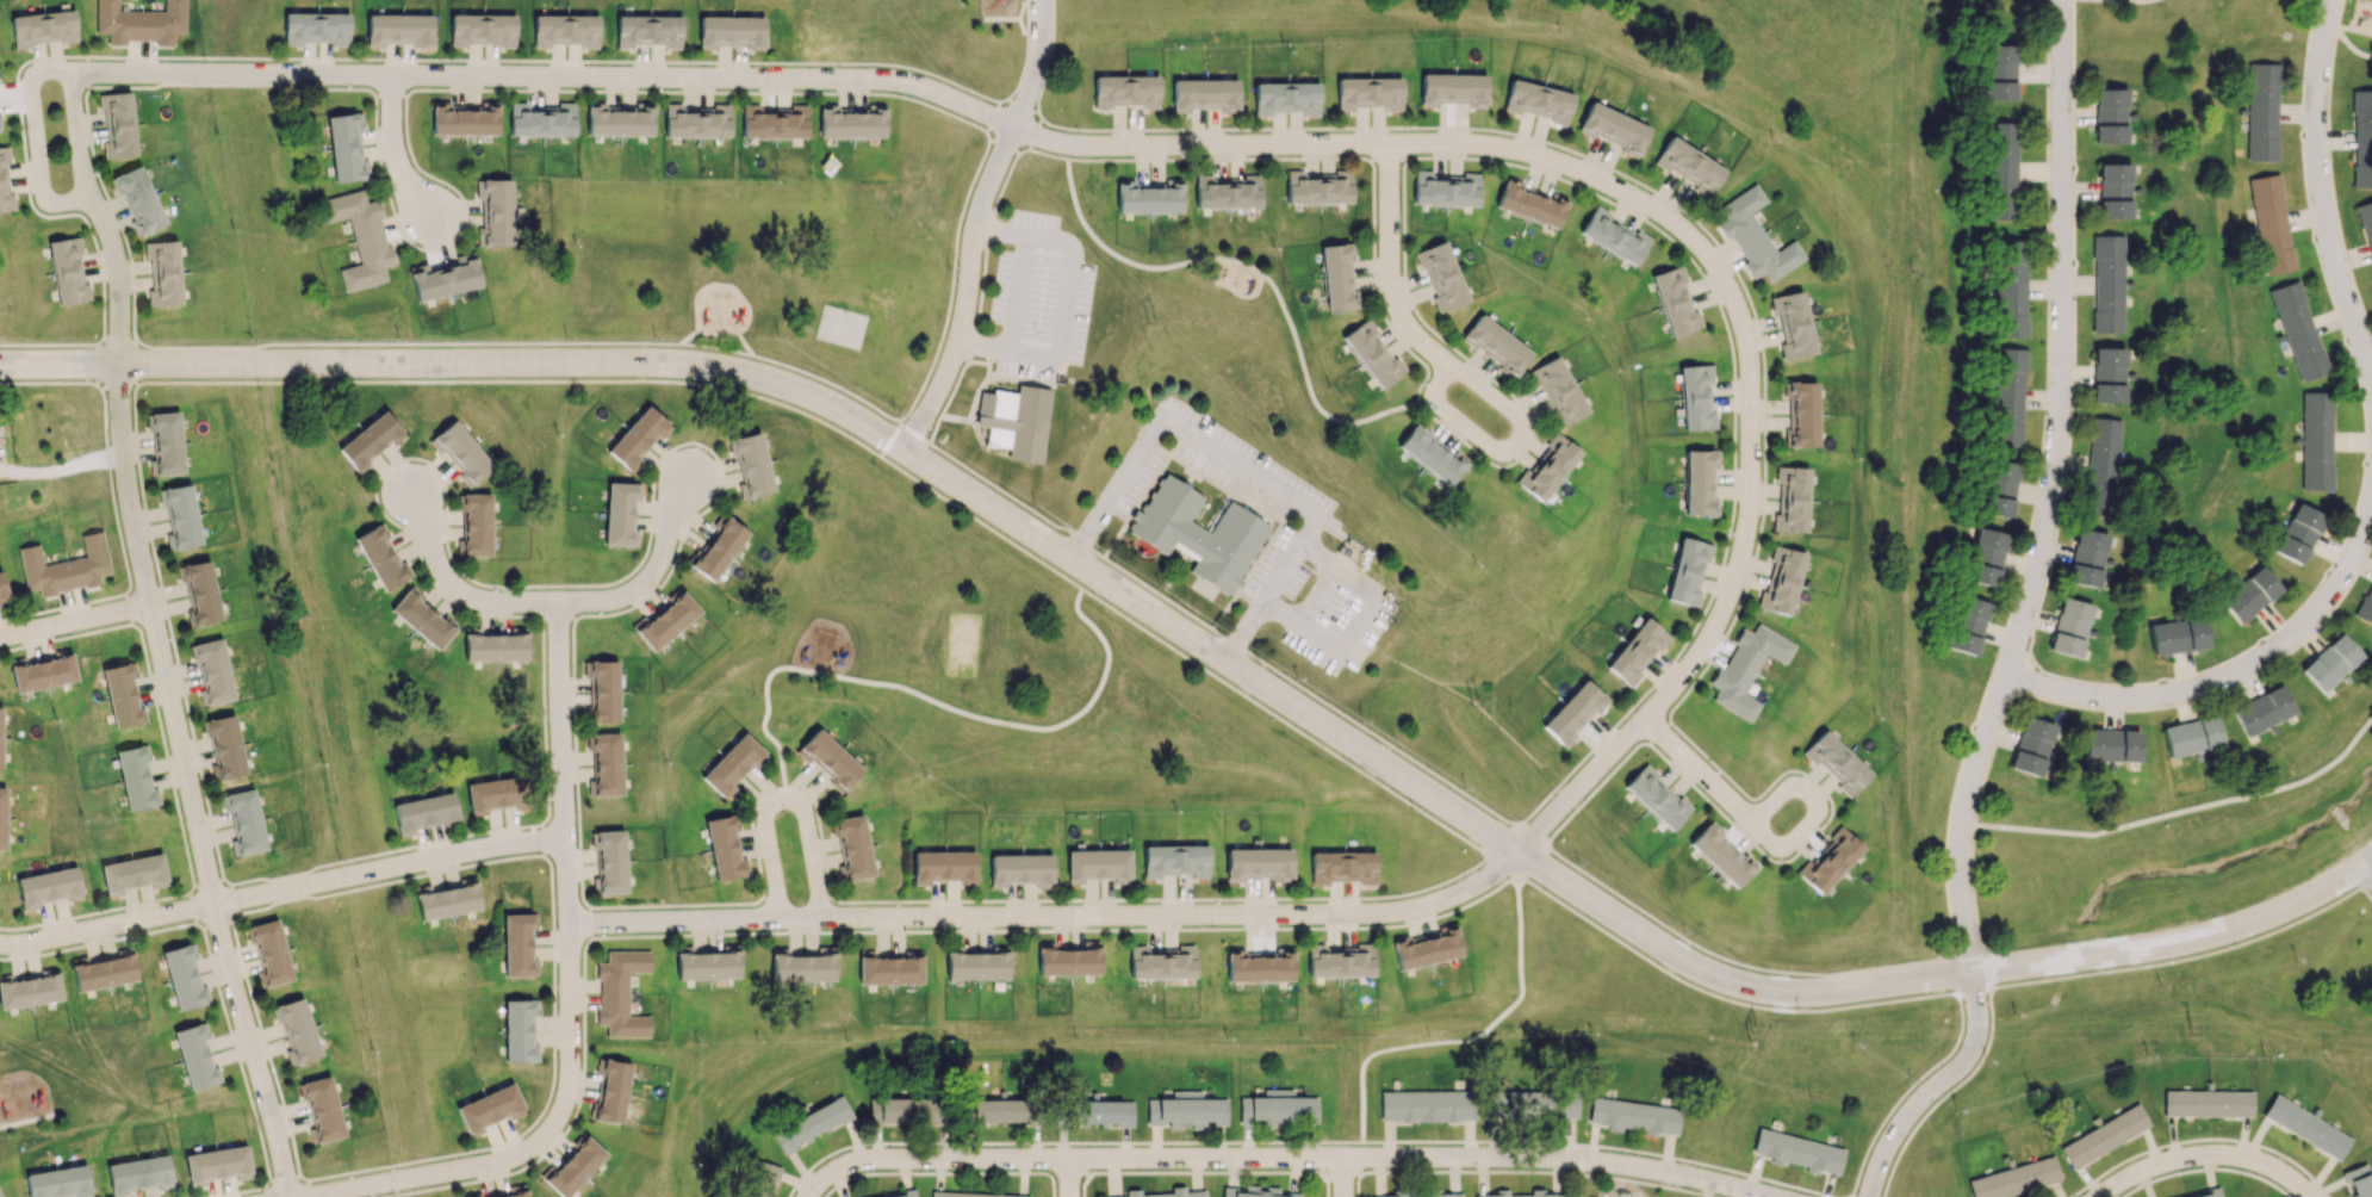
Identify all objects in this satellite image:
road: (1026, 0)
road: (2110, 0)
road: (1023, 8)
road: (999, 17)
road: (1027, 18)
building: (139, 23)
road: (1023, 25)
building: (44, 27)
building: (316, 29)
building: (398, 30)
building: (482, 30)
building: (565, 30)
building: (648, 31)
building: (731, 31)
road: (2341, 35)
road: (348, 60)
road: (1033, 64)
building: (1999, 72)
road: (1019, 73)
road: (542, 76)
building: (1452, 89)
building: (1125, 91)
building: (1368, 93)
building: (1204, 94)
building: (1286, 98)
building: (1538, 101)
building: (2261, 112)
building: (2110, 116)
road: (989, 117)
building: (464, 119)
building: (541, 120)
building: (617, 120)
building: (696, 122)
building: (774, 122)
building: (850, 122)
building: (117, 124)
building: (1613, 128)
building: (0, 129)
road: (1030, 132)
building: (2361, 138)
building: (346, 147)
road: (1001, 147)
road: (1026, 147)
road: (36, 150)
road: (392, 151)
road: (1041, 153)
road: (1365, 157)
building: (1689, 166)
building: (2001, 170)
road: (1637, 181)
building: (5, 184)
building: (1317, 187)
building: (1446, 188)
building: (2113, 190)
road: (2321, 190)
building: (1227, 192)
building: (1148, 197)
building: (138, 199)
building: (1529, 203)
building: (495, 212)
road: (100, 219)
building: (2271, 223)
building: (2366, 224)
building: (1614, 236)
building: (1755, 236)
building: (360, 238)
road: (1696, 241)
road: (1390, 268)
building: (67, 271)
road: (1254, 272)
building: (163, 273)
building: (1337, 275)
building: (1441, 275)
building: (443, 279)
road: (951, 279)
building: (2106, 284)
building: (2011, 287)
road: (971, 292)
parking lot: (1036, 297)
building: (1675, 300)
park: (842, 325)
building: (1793, 325)
power tower: (1142, 330)
building: (2298, 330)
road: (718, 334)
road: (118, 340)
road: (405, 342)
road: (51, 345)
building: (1496, 345)
road: (714, 347)
building: (1372, 354)
road: (86, 365)
road: (827, 380)
road: (517, 382)
road: (50, 384)
road: (119, 386)
building: (1558, 391)
building: (2007, 396)
building: (1695, 397)
road: (821, 403)
building: (1801, 414)
building: (1012, 418)
road: (1440, 424)
road: (914, 429)
building: (637, 438)
road: (889, 438)
road: (1525, 438)
building: (370, 440)
building: (2316, 440)
building: (166, 444)
building: (460, 452)
building: (1430, 454)
building: (751, 465)
road: (1238, 465)
building: (2099, 466)
building: (1547, 467)
building: (1699, 483)
building: (1999, 488)
road: (2054, 494)
building: (1790, 500)
building: (620, 513)
building: (180, 516)
road: (981, 522)
building: (476, 523)
building: (2298, 533)
building: (1198, 534)
parking lot: (1296, 534)
building: (716, 547)
building: (380, 557)
building: (1986, 557)
building: (2086, 557)
building: (64, 566)
building: (1687, 571)
building: (1781, 579)
building: (2, 589)
building: (199, 591)
building: (2249, 594)
road: (73, 604)
road: (551, 604)
building: (2366, 608)
building: (422, 618)
building: (665, 621)
building: (1968, 625)
road: (76, 627)
building: (2069, 627)
road: (1222, 632)
building: (2178, 635)
building: (493, 645)
park: (961, 645)
building: (1637, 651)
building: (2330, 662)
building: (1746, 668)
building: (212, 671)
building: (44, 672)
road: (2222, 678)
building: (603, 690)
building: (125, 697)
road: (930, 699)
power tower: (1482, 699)
building: (2261, 711)
building: (1573, 712)
road: (559, 721)
road: (1283, 721)
road: (1657, 731)
building: (2191, 737)
building: (0, 743)
building: (2031, 745)
building: (2111, 745)
building: (229, 748)
building: (828, 759)
building: (1836, 762)
building: (732, 764)
building: (606, 765)
building: (138, 780)
road: (191, 784)
road: (1596, 787)
road: (1952, 789)
building: (495, 793)
building: (1656, 798)
road: (788, 802)
road: (2186, 808)
building: (423, 812)
road: (1974, 812)
building: (2, 817)
building: (243, 820)
road: (1529, 832)
road: (1762, 833)
road: (1546, 844)
building: (724, 846)
building: (852, 848)
building: (1721, 855)
building: (1175, 860)
building: (1830, 860)
road: (1532, 861)
building: (609, 862)
building: (1256, 863)
building: (1099, 864)
road: (1501, 864)
building: (943, 866)
building: (1342, 867)
road: (389, 869)
building: (1020, 869)
road: (2367, 869)
building: (132, 874)
road: (565, 881)
road: (2364, 882)
building: (48, 887)
road: (2364, 897)
building: (447, 899)
road: (1178, 917)
road: (694, 923)
road: (106, 926)
road: (105, 942)
building: (519, 944)
building: (1426, 948)
road: (52, 953)
building: (269, 953)
road: (1967, 953)
road: (31, 957)
building: (1340, 961)
road: (2179, 961)
building: (1161, 962)
road: (1732, 962)
building: (706, 963)
building: (975, 963)
building: (802, 965)
building: (1259, 966)
building: (888, 969)
road: (1986, 969)
building: (104, 972)
road: (1950, 974)
road: (1935, 978)
building: (186, 979)
building: (29, 990)
road: (1972, 991)
building: (620, 993)
road: (1720, 998)
building: (297, 1030)
building: (519, 1031)
power tower: (2186, 1031)
power tower: (1746, 1035)
road: (1468, 1040)
building: (198, 1056)
road: (1933, 1087)
building: (610, 1091)
road: (1906, 1091)
road: (1944, 1094)
road: (565, 1096)
building: (2208, 1103)
building: (1530, 1104)
building: (1426, 1105)
building: (490, 1108)
building: (1279, 1108)
building: (322, 1110)
building: (904, 1110)
building: (1001, 1110)
building: (1186, 1110)
building: (1097, 1112)
building: (1633, 1116)
road: (26, 1120)
building: (811, 1123)
building: (2306, 1127)
building: (2104, 1135)
road: (1471, 1141)
road: (1066, 1142)
building: (1797, 1151)
road: (2206, 1155)
road: (1321, 1156)
road: (1285, 1158)
road: (1579, 1158)
building: (217, 1164)
building: (573, 1166)
road: (1714, 1166)
road: (1196, 1172)
building: (138, 1174)
road: (1594, 1174)
road: (1342, 1177)
road: (1069, 1178)
building: (2014, 1178)
building: (760, 1179)
building: (2359, 1180)
building: (58, 1183)
road: (1082, 1183)
road: (1327, 1183)
road: (362, 1185)
road: (1578, 1185)
road: (1663, 1185)
road: (1606, 1186)
road: (370, 1191)
building: (1536, 1191)
road: (238, 1192)
road: (263, 1192)
building: (510, 1192)
building: (1255, 1192)
building: (2209, 1192)
building: (906, 1193)
building: (1165, 1193)
building: (971, 1195)
building: (1418, 1195)
road: (1849, 1196)

